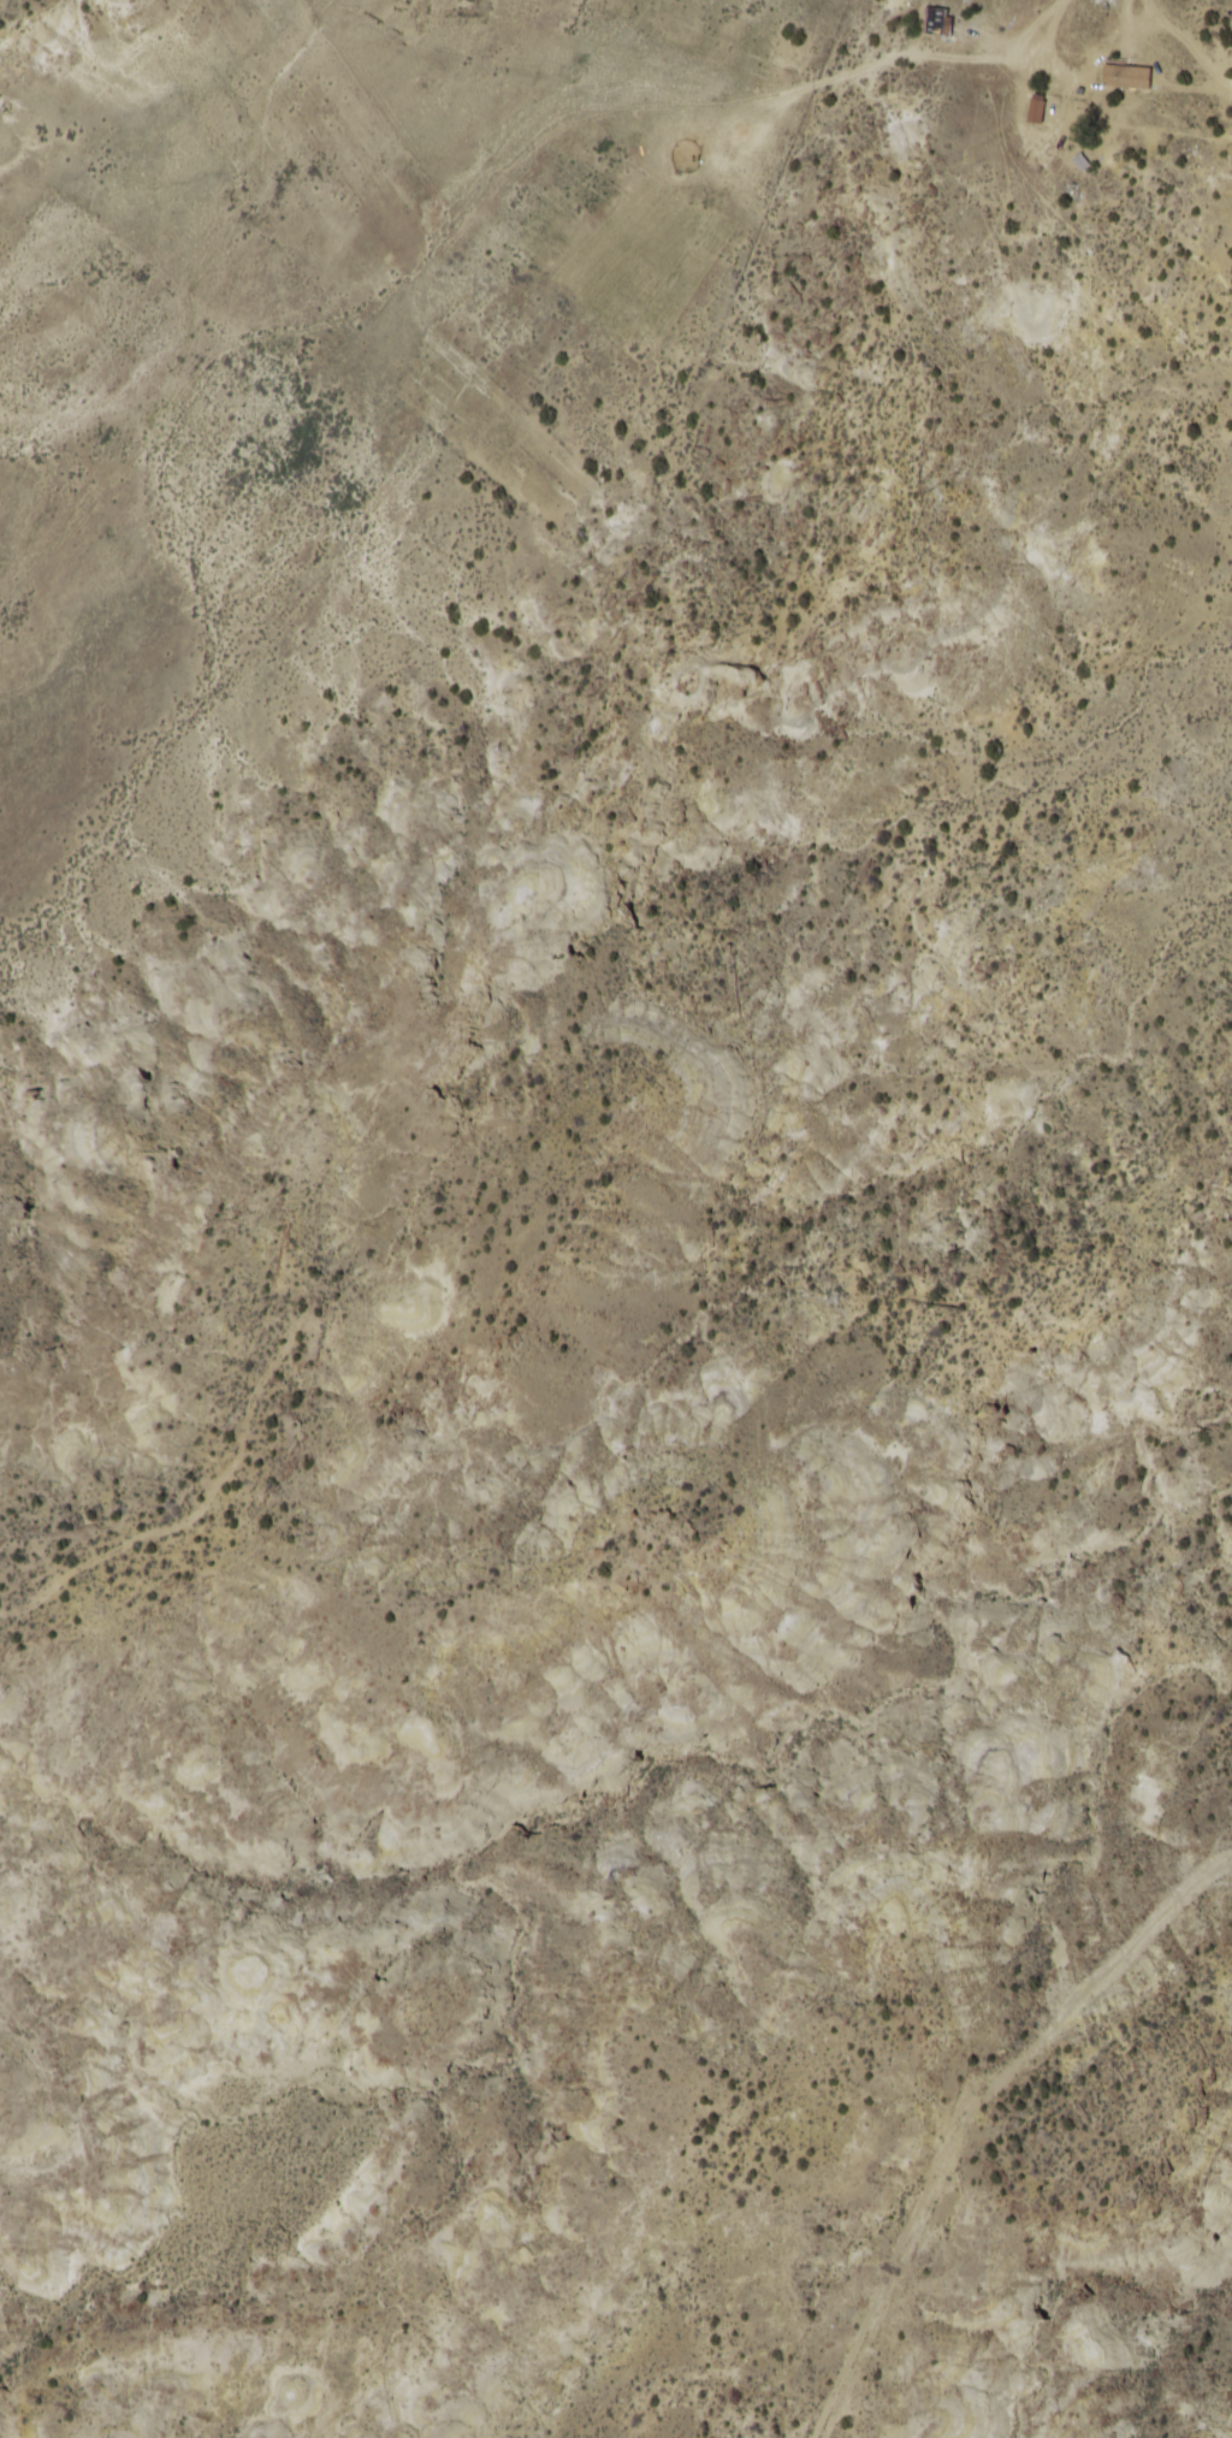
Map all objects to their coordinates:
building: (937, 22)
road: (1055, 42)
building: (1126, 77)
road: (497, 182)
road: (794, 1262)
road: (966, 2102)

